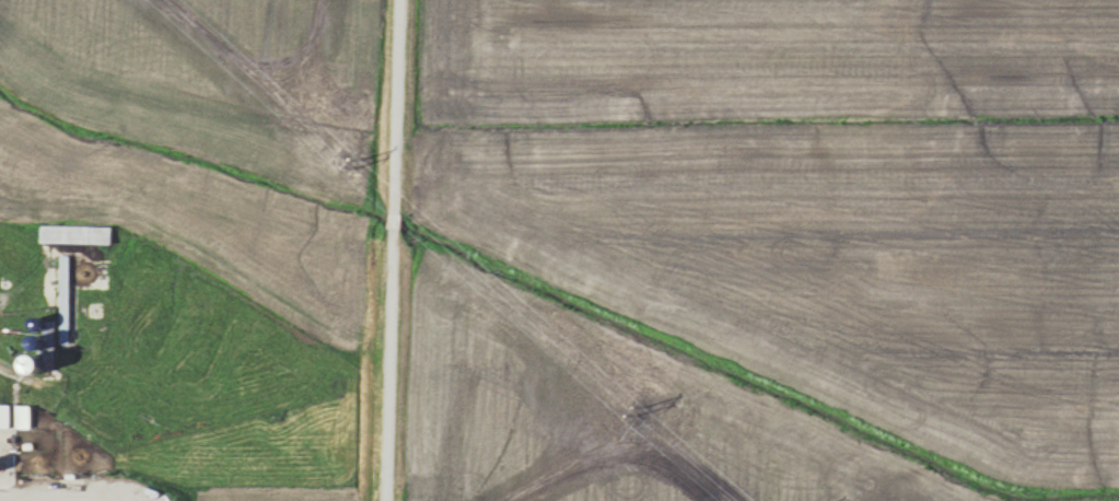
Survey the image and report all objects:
building: (68, 234)
road: (387, 250)
building: (56, 300)
building: (1, 416)
building: (15, 417)
road: (26, 500)

